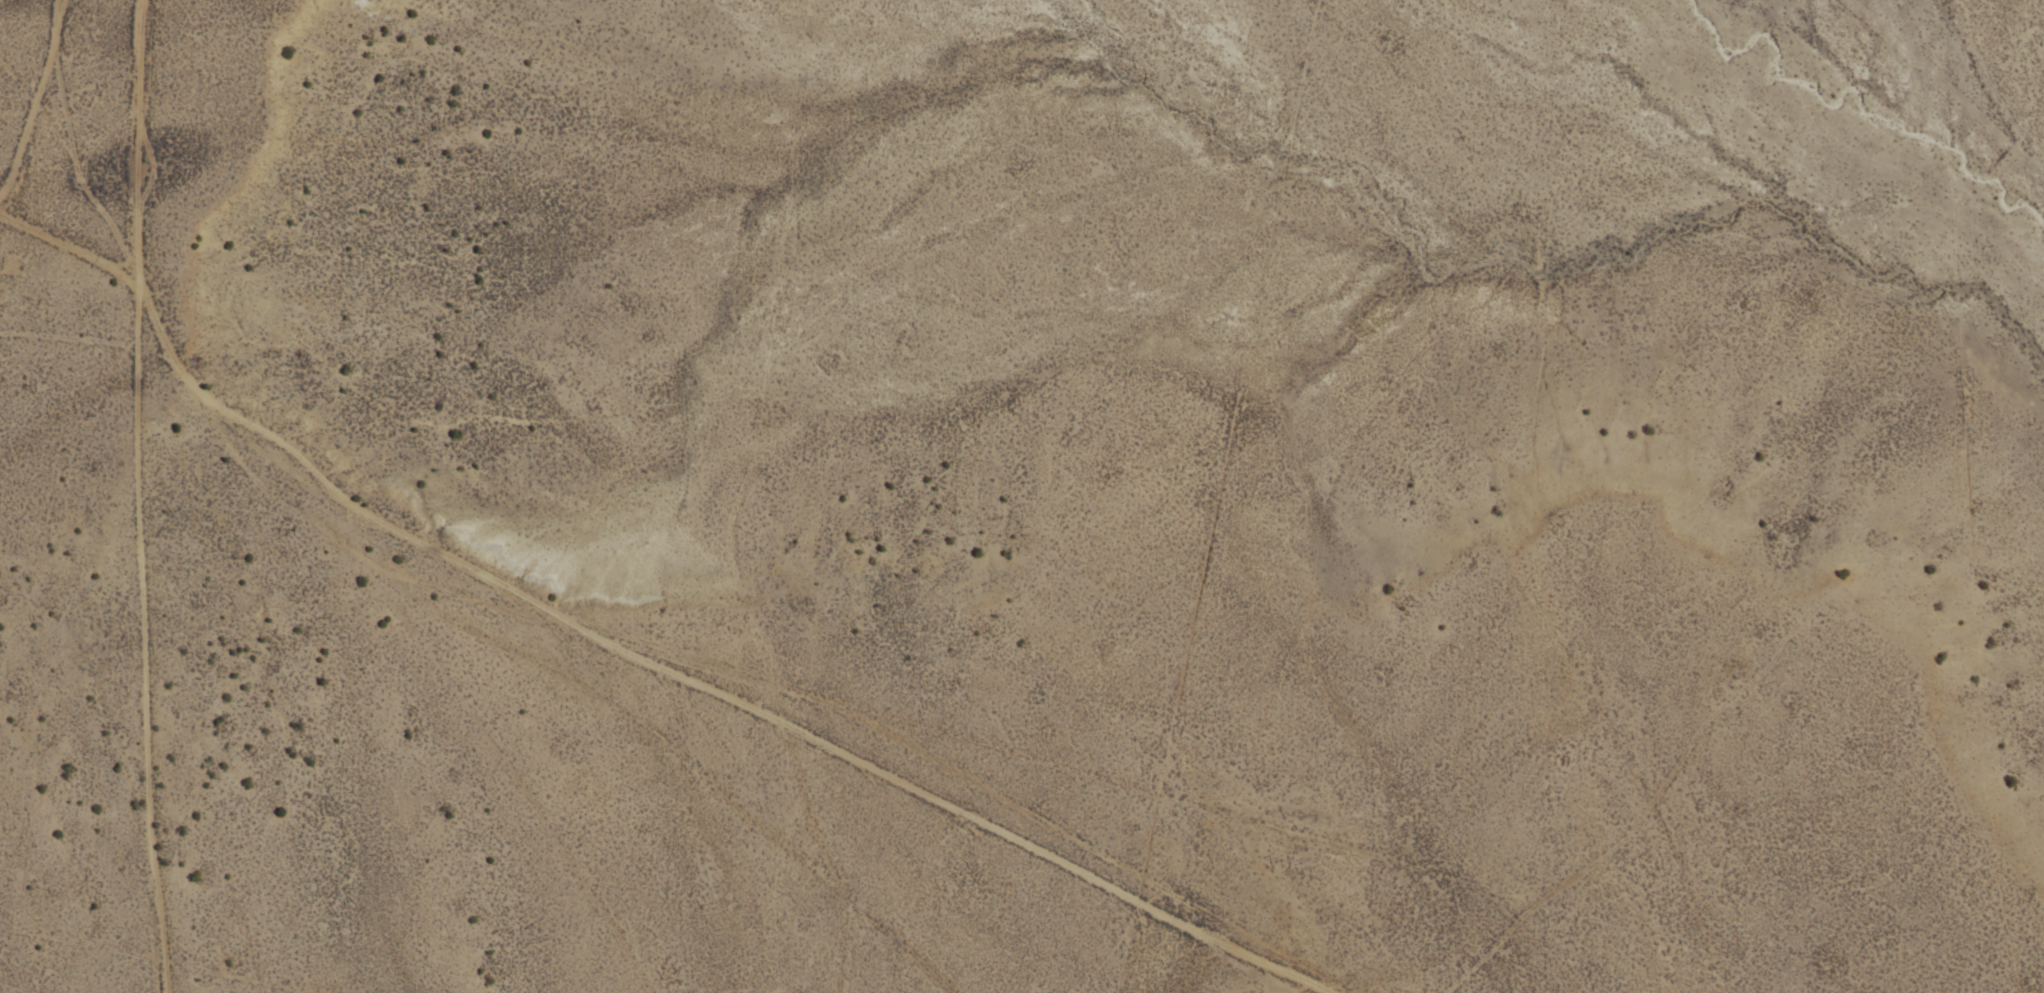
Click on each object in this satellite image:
road: (561, 623)

